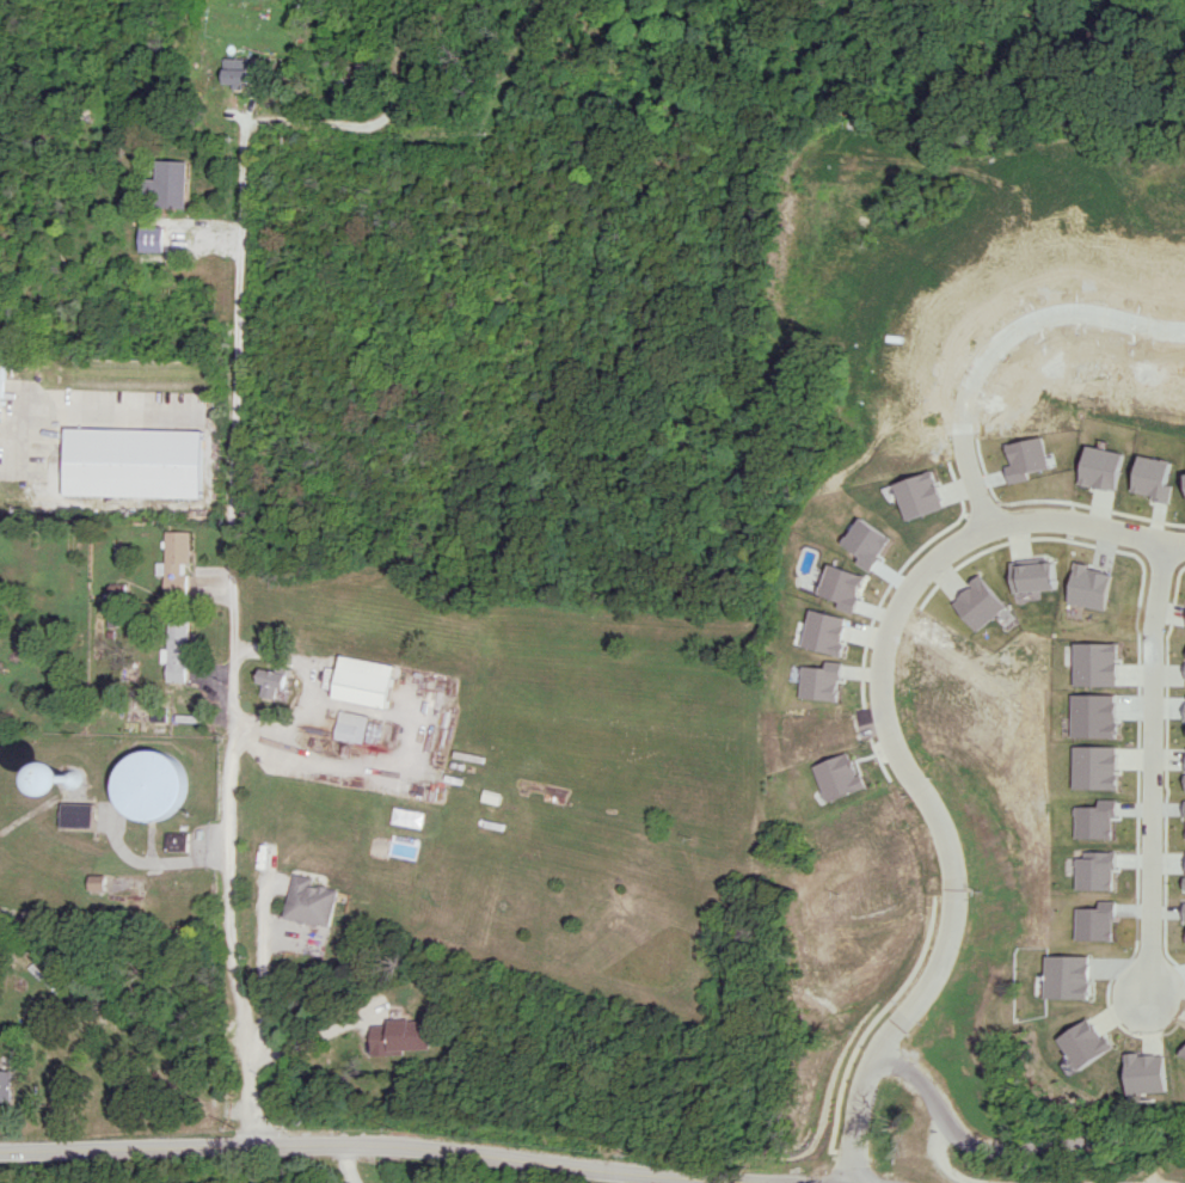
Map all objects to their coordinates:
building: (238, 71)
building: (168, 183)
building: (149, 234)
road: (996, 343)
building: (1, 384)
road: (94, 410)
building: (133, 462)
building: (1103, 467)
building: (1155, 478)
road: (235, 495)
building: (174, 560)
building: (1032, 574)
building: (1089, 586)
building: (977, 602)
building: (824, 632)
building: (178, 652)
road: (285, 657)
building: (271, 681)
building: (363, 681)
building: (819, 681)
building: (351, 725)
road: (897, 748)
road: (403, 764)
road: (1148, 773)
building: (839, 776)
building: (69, 779)
building: (151, 785)
building: (80, 815)
building: (403, 815)
building: (177, 841)
building: (100, 882)
building: (313, 901)
road: (266, 994)
building: (405, 1036)
road: (308, 1037)
building: (1085, 1043)
building: (7, 1085)
road: (397, 1144)
road: (1009, 1148)
road: (945, 1161)
road: (350, 1163)

